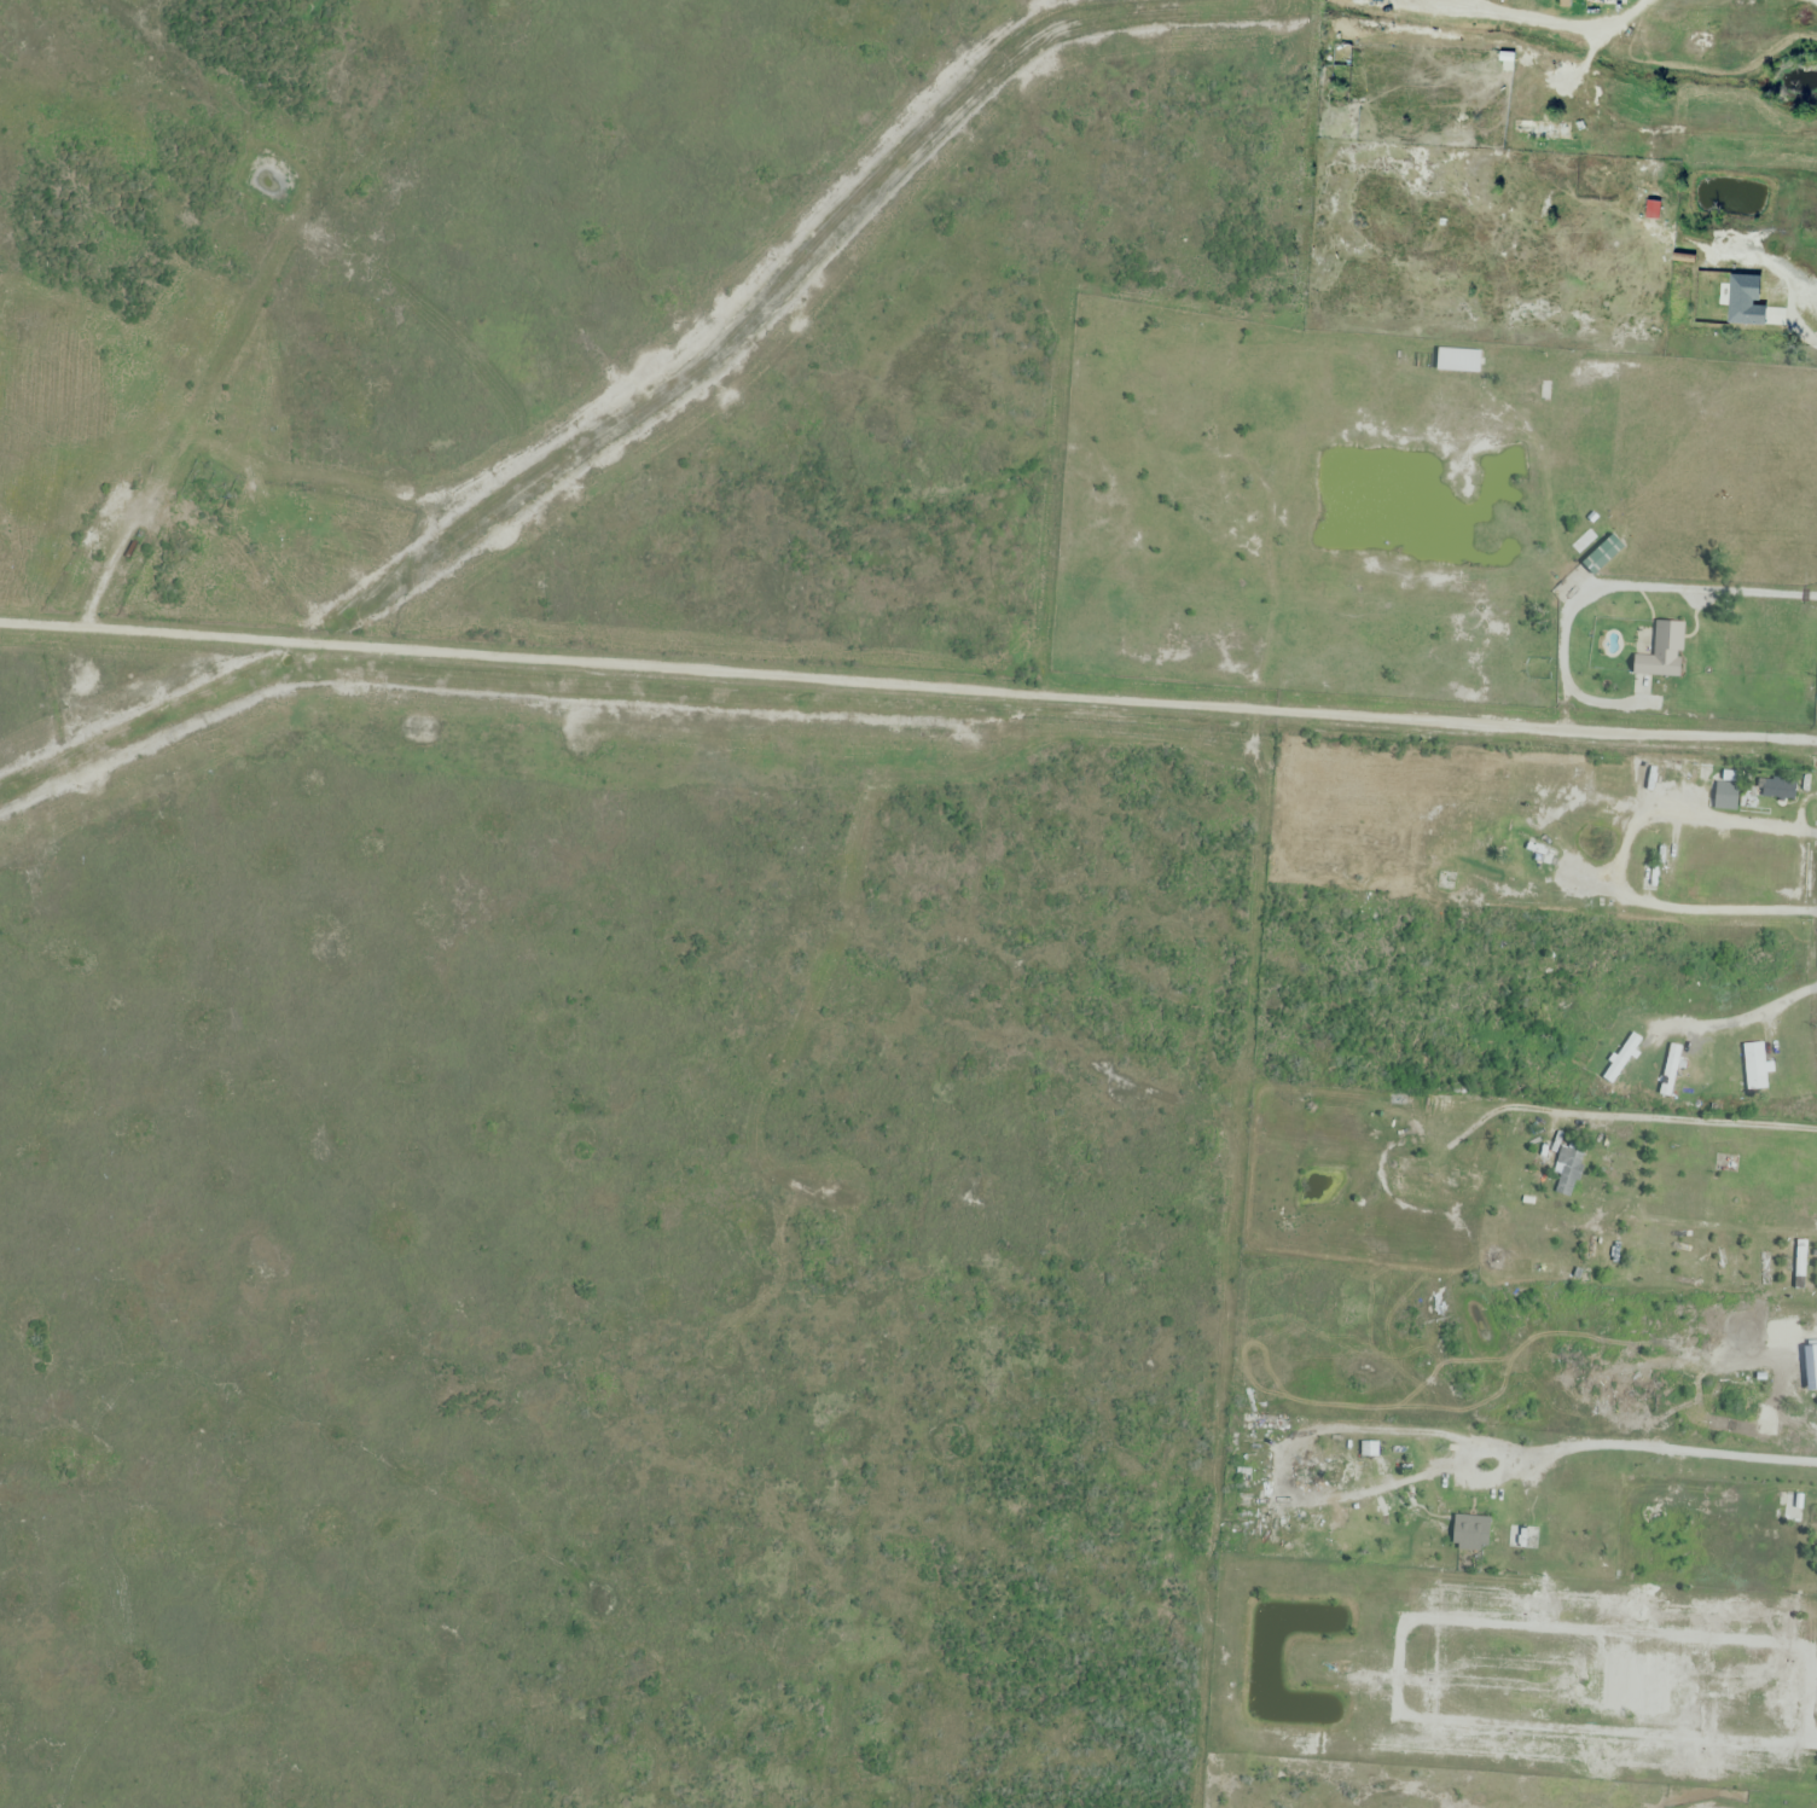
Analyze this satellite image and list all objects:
building: (1392, 0)
building: (1417, 0)
building: (1471, 0)
building: (1589, 1)
building: (1453, 2)
building: (1787, 19)
road: (1513, 27)
building: (1432, 234)
road: (1764, 314)
building: (1531, 390)
building: (104, 519)
building: (1601, 557)
road: (907, 686)
building: (1775, 790)
building: (1725, 796)
road: (1759, 827)
building: (1520, 861)
building: (1670, 862)
road: (1694, 912)
road: (1737, 1018)
building: (1621, 1059)
building: (1670, 1069)
building: (1706, 1075)
building: (1568, 1168)
building: (1609, 1254)
building: (1801, 1263)
building: (1764, 1269)
building: (1271, 1423)
road: (1542, 1453)
building: (1487, 1489)
building: (1593, 1501)
building: (1793, 1508)
building: (1812, 1806)

